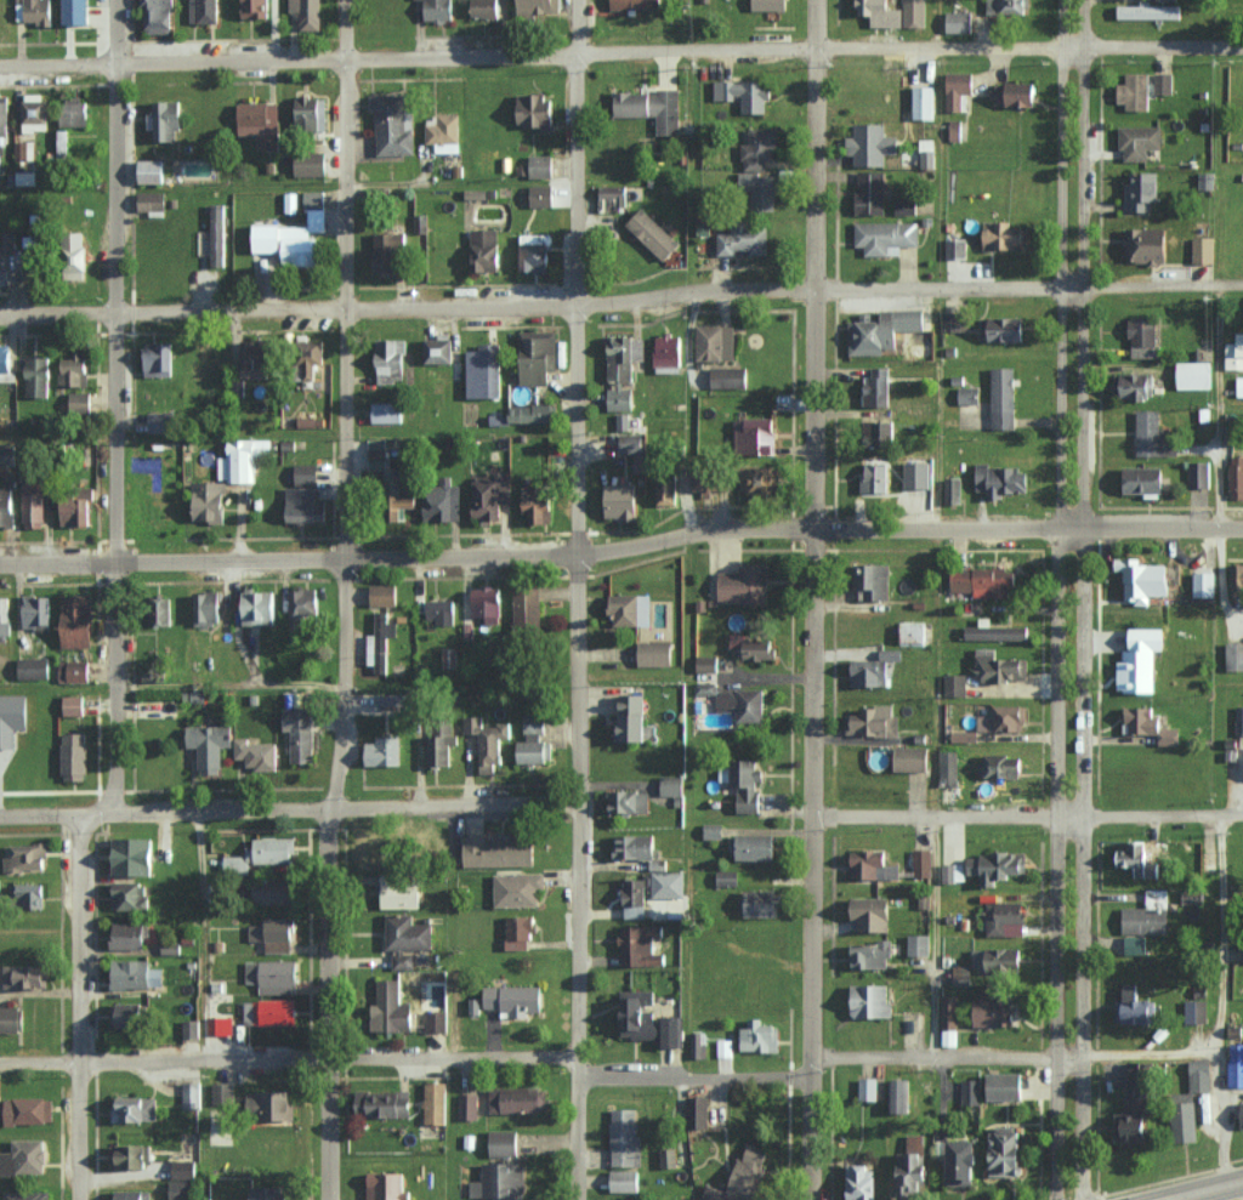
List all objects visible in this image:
building: (635, 4)
building: (770, 5)
building: (537, 6)
building: (486, 7)
building: (1008, 7)
building: (256, 8)
building: (438, 10)
building: (35, 11)
building: (78, 11)
building: (204, 11)
building: (875, 11)
building: (1151, 11)
building: (307, 12)
building: (914, 13)
building: (158, 16)
building: (959, 22)
road: (620, 58)
building: (1163, 83)
building: (958, 89)
building: (1135, 91)
building: (745, 93)
building: (1015, 93)
building: (924, 102)
building: (652, 107)
building: (537, 110)
building: (34, 112)
building: (74, 112)
building: (308, 112)
building: (4, 119)
building: (165, 120)
building: (256, 123)
building: (393, 124)
building: (955, 130)
building: (443, 132)
building: (62, 141)
building: (1140, 141)
building: (872, 143)
building: (760, 148)
building: (22, 149)
building: (927, 153)
building: (311, 164)
building: (541, 165)
building: (152, 171)
building: (1142, 189)
building: (759, 190)
building: (870, 192)
building: (541, 195)
building: (614, 197)
building: (152, 200)
building: (314, 205)
building: (906, 205)
building: (653, 233)
building: (216, 235)
building: (885, 235)
building: (1004, 235)
building: (744, 240)
building: (288, 243)
building: (1147, 244)
building: (957, 248)
building: (1203, 249)
building: (484, 250)
building: (390, 251)
building: (78, 255)
building: (534, 257)
building: (22, 258)
building: (4, 268)
road: (621, 298)
building: (952, 320)
building: (1004, 329)
building: (881, 330)
building: (715, 342)
building: (438, 351)
building: (668, 353)
building: (1235, 353)
building: (310, 357)
building: (538, 357)
building: (619, 357)
building: (5, 358)
building: (256, 358)
building: (158, 359)
building: (74, 370)
building: (484, 371)
building: (1194, 375)
building: (38, 376)
building: (728, 377)
building: (1136, 386)
building: (1239, 386)
building: (878, 387)
building: (969, 396)
building: (1003, 397)
building: (620, 399)
building: (79, 402)
road: (115, 406)
road: (1218, 406)
building: (387, 411)
building: (532, 413)
building: (161, 421)
building: (623, 421)
building: (880, 432)
building: (1153, 434)
building: (755, 436)
building: (631, 443)
building: (378, 454)
building: (242, 459)
building: (306, 473)
building: (1198, 473)
building: (1236, 476)
building: (876, 478)
building: (765, 479)
building: (1145, 479)
building: (713, 480)
building: (1001, 480)
building: (666, 487)
building: (952, 490)
building: (490, 495)
building: (210, 501)
building: (621, 501)
building: (442, 502)
building: (6, 504)
building: (401, 504)
building: (538, 504)
building: (33, 505)
building: (305, 505)
building: (72, 508)
road: (620, 548)
building: (1143, 580)
building: (874, 581)
building: (983, 581)
building: (1237, 582)
building: (1205, 584)
building: (744, 585)
building: (384, 595)
road: (344, 599)
road: (572, 599)
road: (813, 599)
road: (1057, 599)
road: (1080, 599)
building: (488, 603)
building: (260, 607)
building: (206, 608)
building: (527, 608)
building: (631, 609)
building: (36, 610)
building: (439, 610)
building: (302, 613)
building: (161, 614)
building: (78, 620)
building: (4, 621)
building: (995, 631)
building: (380, 642)
building: (751, 648)
building: (654, 653)
building: (1233, 655)
building: (450, 658)
building: (1141, 660)
building: (706, 664)
building: (1000, 666)
building: (33, 667)
building: (873, 669)
building: (74, 671)
building: (954, 684)
building: (743, 704)
building: (73, 705)
building: (12, 717)
building: (632, 718)
building: (1004, 718)
building: (873, 722)
building: (1150, 724)
building: (301, 733)
building: (964, 735)
building: (487, 741)
building: (533, 741)
building: (438, 750)
building: (384, 751)
building: (255, 752)
building: (74, 756)
building: (912, 758)
building: (999, 766)
building: (948, 768)
building: (744, 784)
building: (672, 785)
building: (628, 802)
road: (288, 809)
road: (1027, 814)
building: (713, 831)
building: (634, 847)
building: (754, 847)
building: (499, 852)
building: (263, 853)
building: (386, 854)
building: (134, 855)
building: (27, 857)
building: (1137, 860)
building: (921, 863)
building: (872, 865)
building: (997, 866)
building: (953, 872)
building: (727, 877)
building: (669, 883)
building: (518, 889)
building: (274, 892)
building: (401, 892)
building: (29, 894)
building: (130, 895)
building: (635, 897)
building: (1192, 897)
building: (759, 903)
building: (873, 915)
building: (1005, 919)
building: (1145, 921)
building: (521, 932)
building: (408, 933)
building: (129, 934)
road: (202, 934)
building: (273, 934)
road: (933, 935)
building: (641, 945)
building: (919, 945)
building: (1136, 945)
building: (872, 955)
building: (403, 960)
building: (998, 960)
building: (137, 974)
building: (960, 974)
building: (25, 976)
building: (273, 976)
road: (1219, 996)
building: (515, 999)
building: (870, 1001)
road: (78, 1007)
building: (1135, 1007)
building: (391, 1008)
building: (995, 1008)
building: (1196, 1011)
building: (271, 1012)
building: (129, 1014)
building: (12, 1019)
building: (648, 1019)
building: (949, 1020)
building: (437, 1022)
building: (220, 1025)
building: (192, 1028)
building: (760, 1036)
building: (697, 1045)
building: (723, 1047)
road: (1147, 1054)
road: (546, 1056)
building: (1236, 1065)
building: (1005, 1086)
building: (867, 1088)
building: (970, 1092)
building: (191, 1094)
building: (898, 1094)
building: (221, 1097)
building: (516, 1099)
building: (1191, 1102)
building: (384, 1103)
building: (435, 1103)
building: (271, 1105)
building: (467, 1105)
building: (1136, 1105)
building: (136, 1109)
building: (28, 1110)
building: (698, 1111)
building: (625, 1138)
building: (504, 1143)
building: (915, 1143)
building: (1005, 1151)
building: (130, 1156)
building: (23, 1158)
building: (668, 1158)
building: (963, 1164)
building: (182, 1168)
building: (912, 1173)
building: (744, 1178)
building: (505, 1181)
building: (624, 1181)
building: (861, 1182)
building: (386, 1187)
road: (1194, 1187)
building: (180, 1189)
building: (271, 1193)
building: (27, 1195)
building: (134, 1195)

